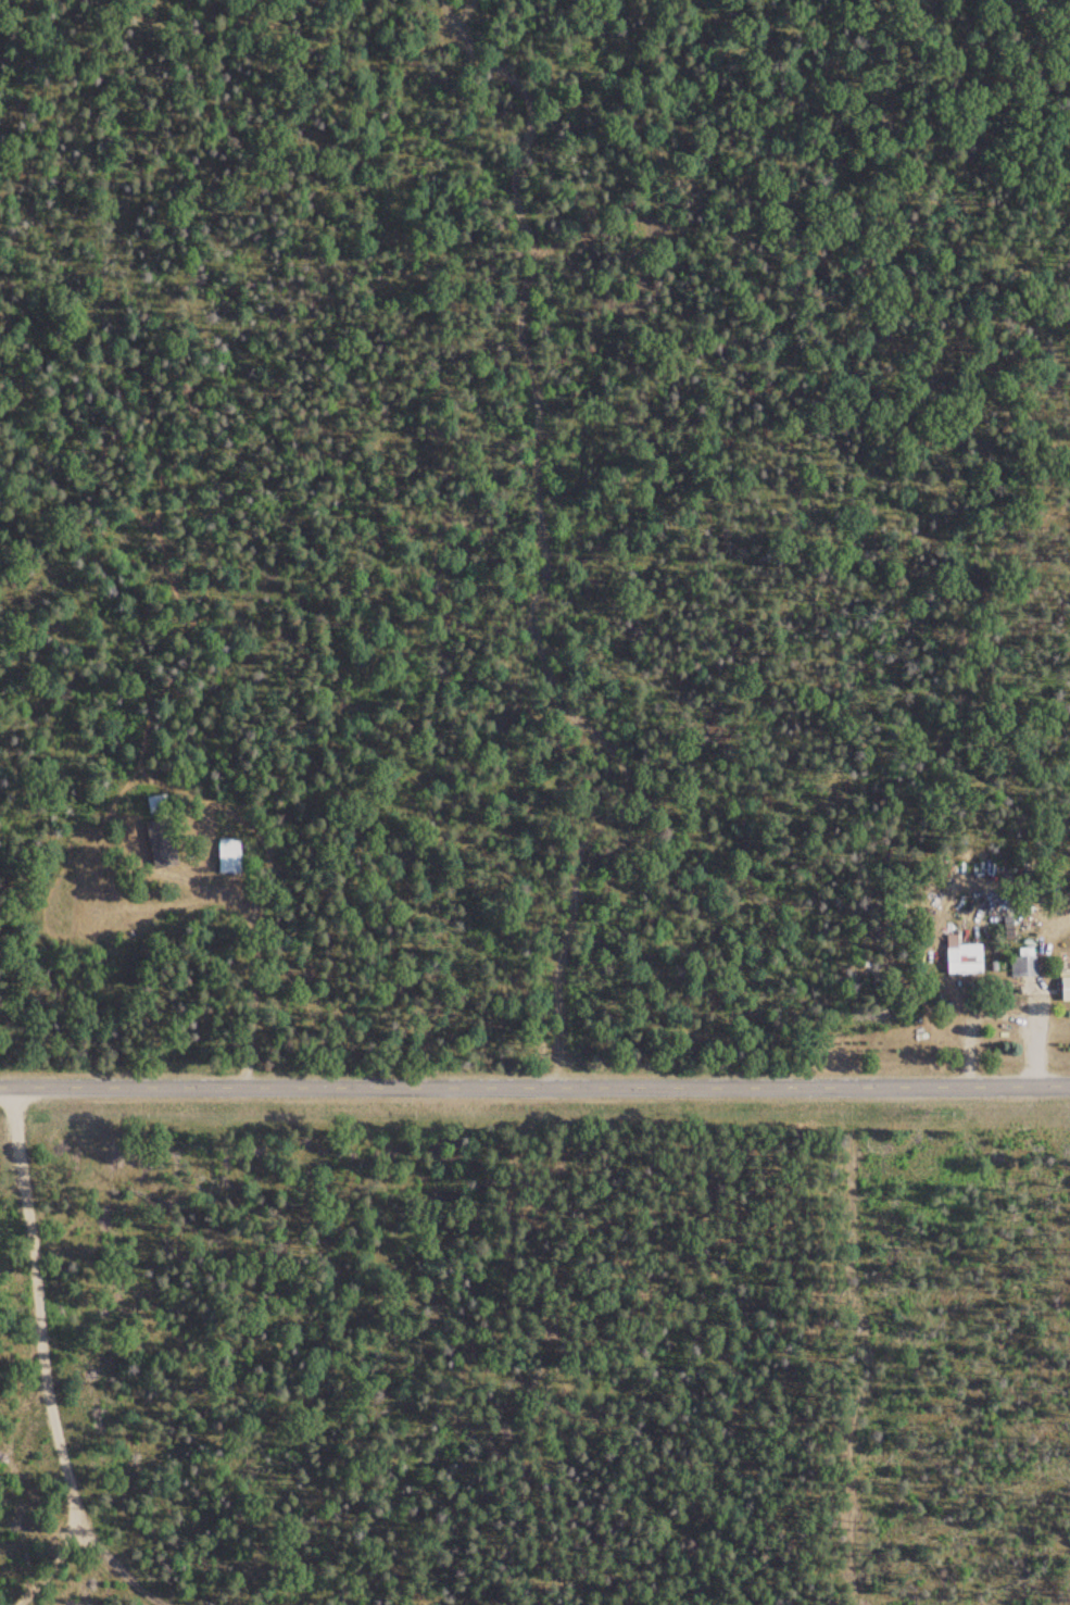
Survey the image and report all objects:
building: (159, 804)
building: (163, 843)
building: (229, 856)
building: (966, 961)
building: (1024, 965)
building: (1066, 988)
road: (534, 1079)

